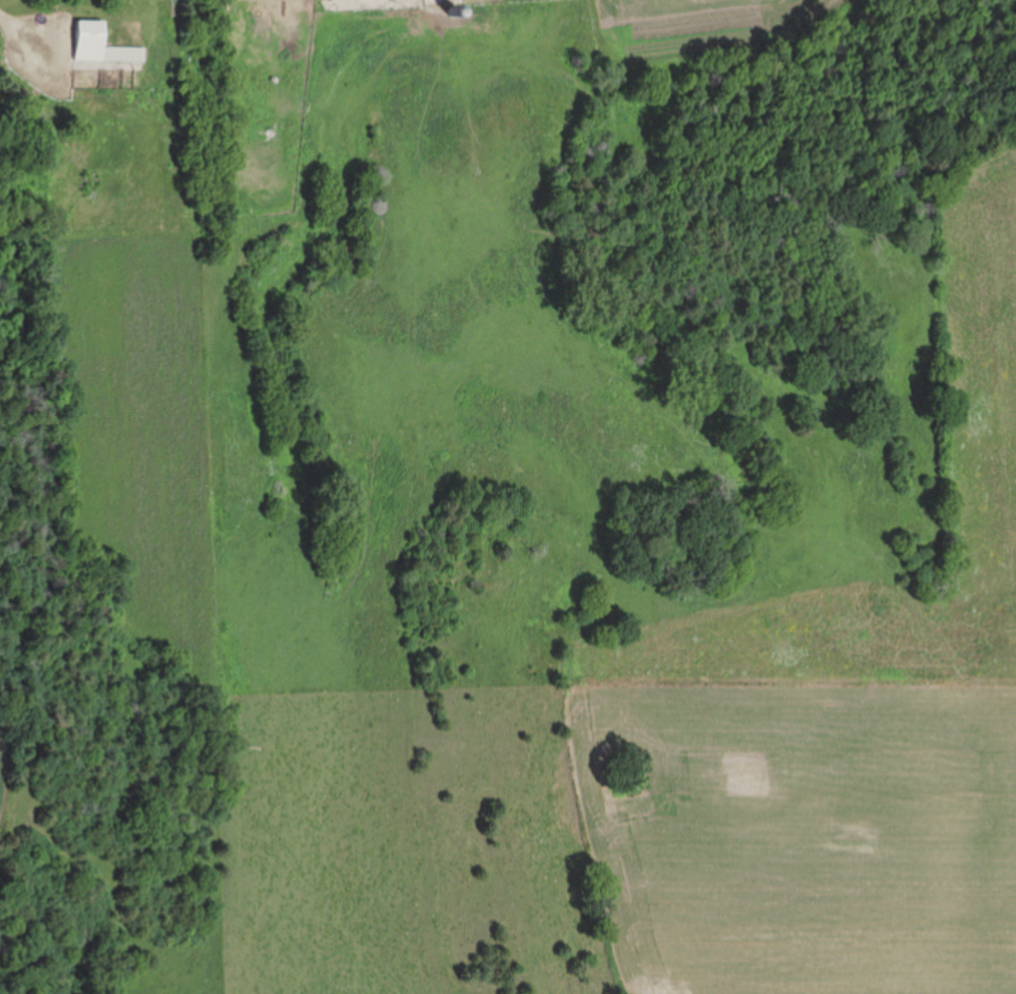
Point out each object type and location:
building: (103, 45)

